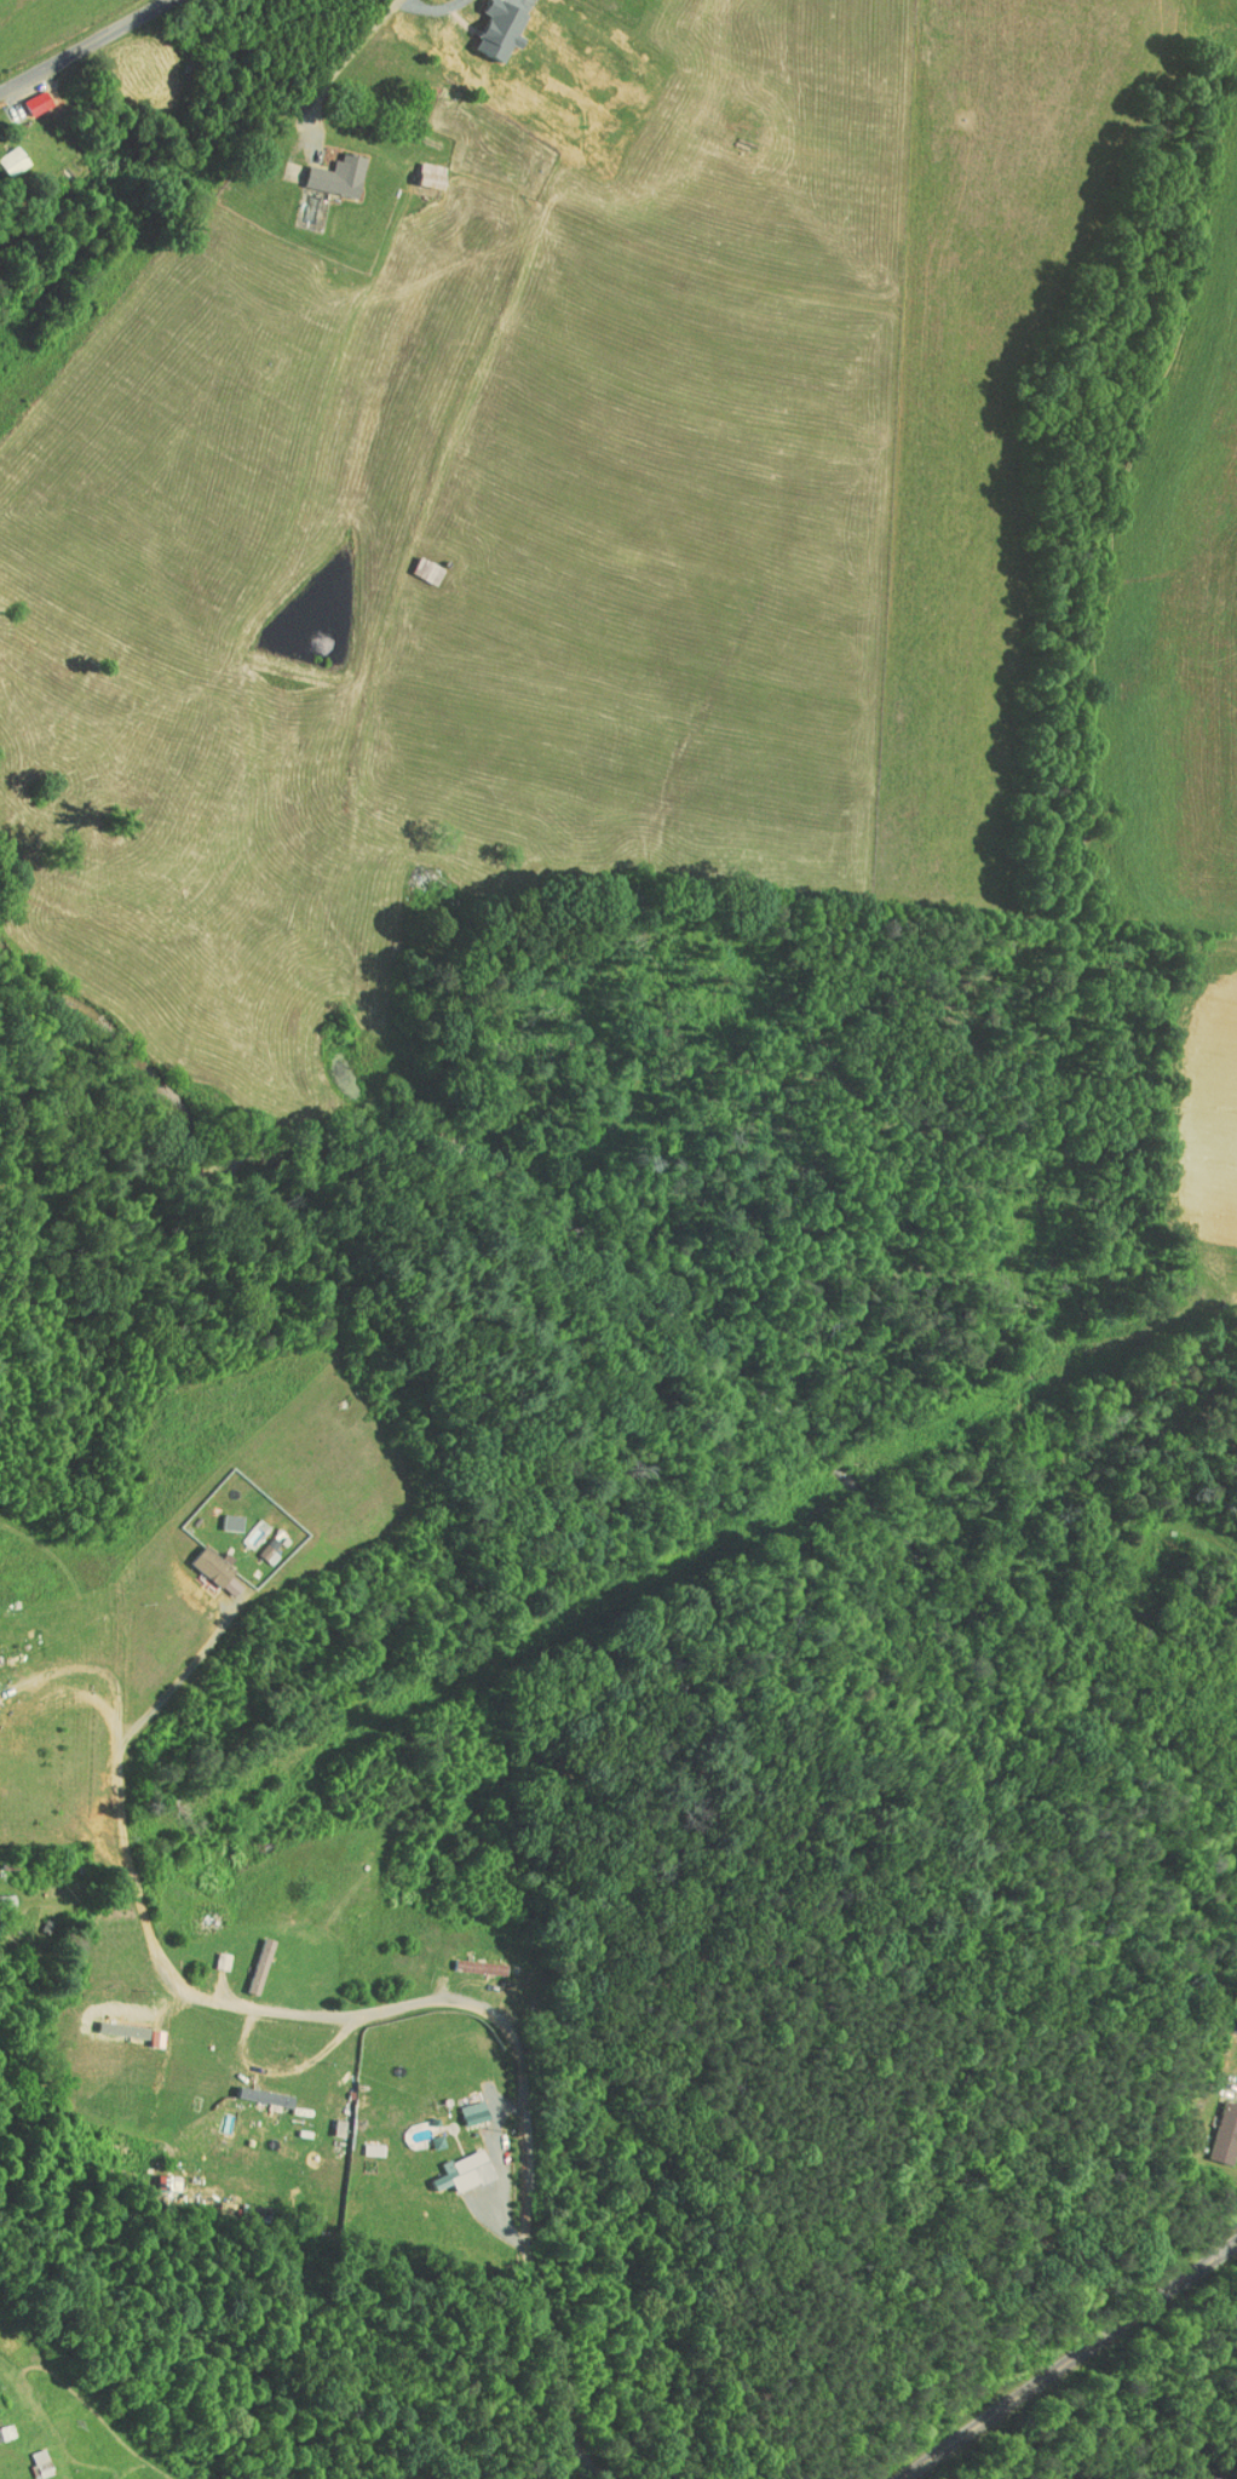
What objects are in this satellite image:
building: (490, 23)
road: (84, 44)
road: (346, 64)
building: (6, 151)
building: (420, 167)
building: (327, 168)
building: (220, 1514)
building: (240, 1530)
building: (258, 1544)
building: (206, 1561)
building: (248, 1957)
road: (378, 2015)
building: (113, 2021)
building: (254, 2088)
building: (462, 2104)
building: (328, 2119)
building: (1214, 2124)
building: (426, 2134)
building: (453, 2162)
road: (1088, 2376)
building: (0, 2428)
building: (29, 2456)

